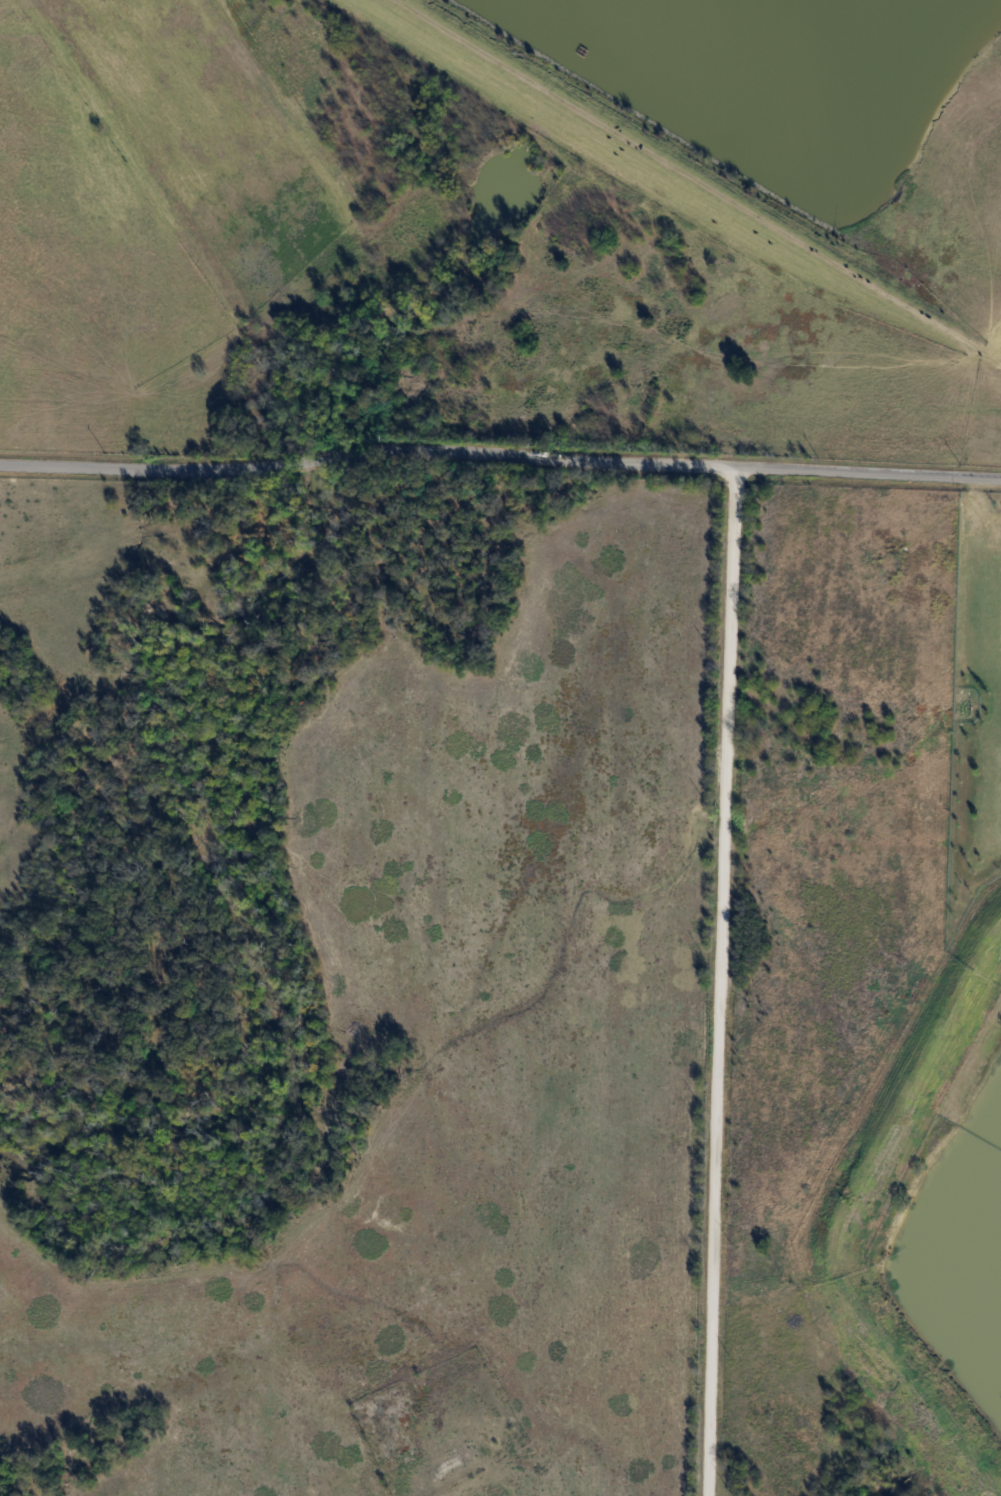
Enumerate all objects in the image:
road: (499, 453)
road: (721, 980)

